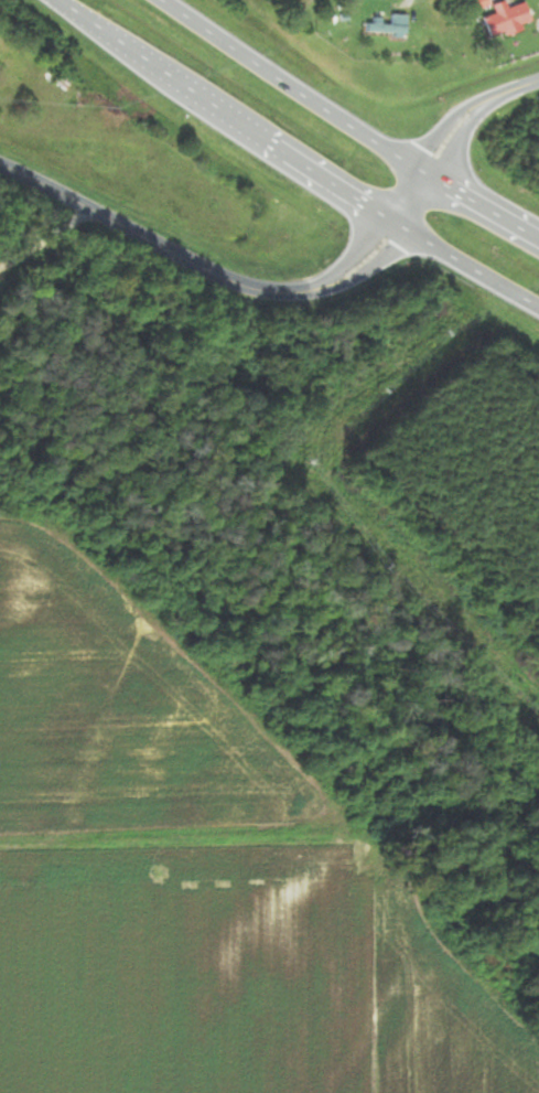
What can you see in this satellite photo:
building: (508, 20)
building: (391, 26)
building: (11, 81)
road: (346, 125)
road: (293, 161)
road: (301, 294)

